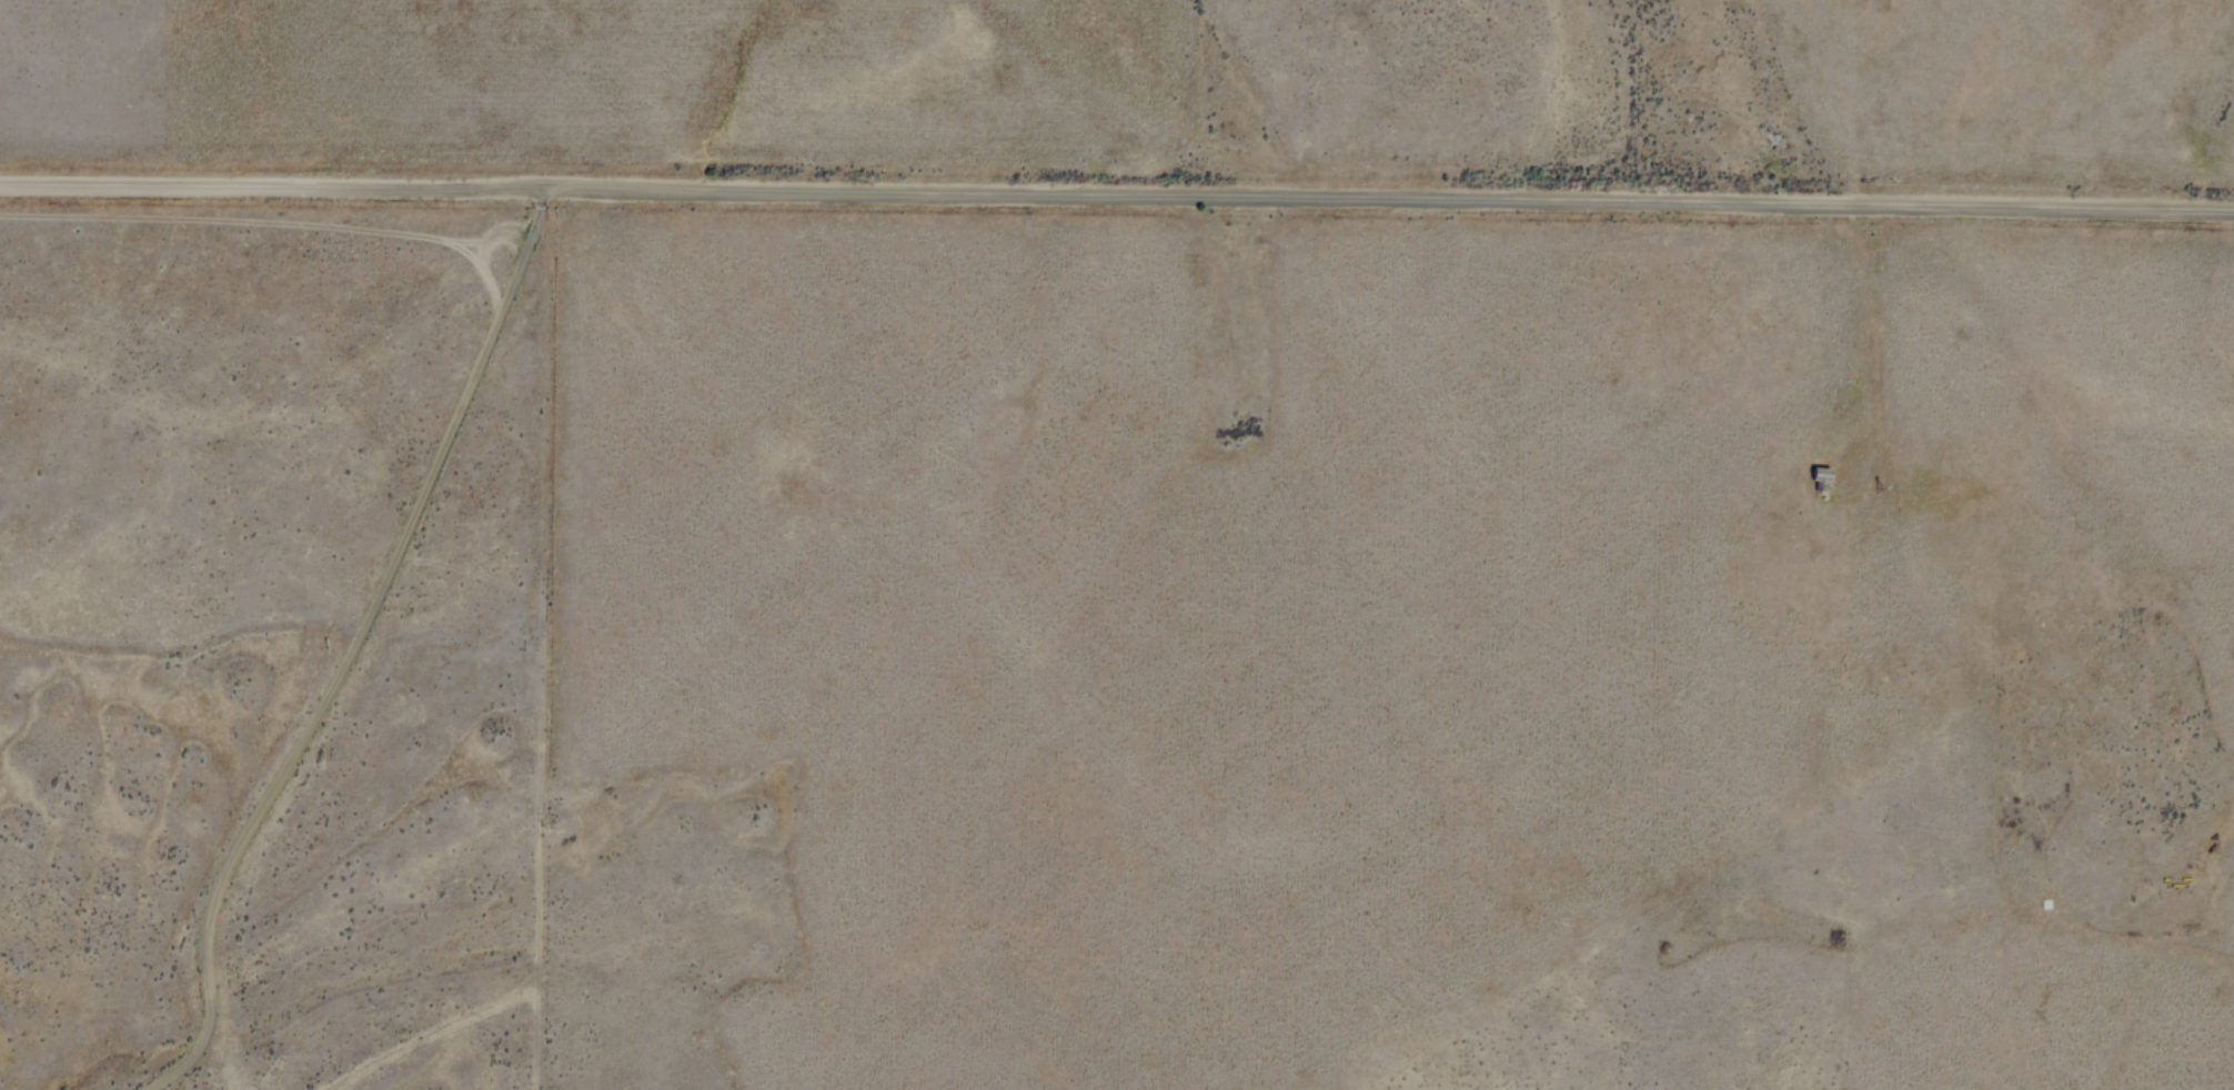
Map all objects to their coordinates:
road: (1117, 198)
road: (352, 650)

